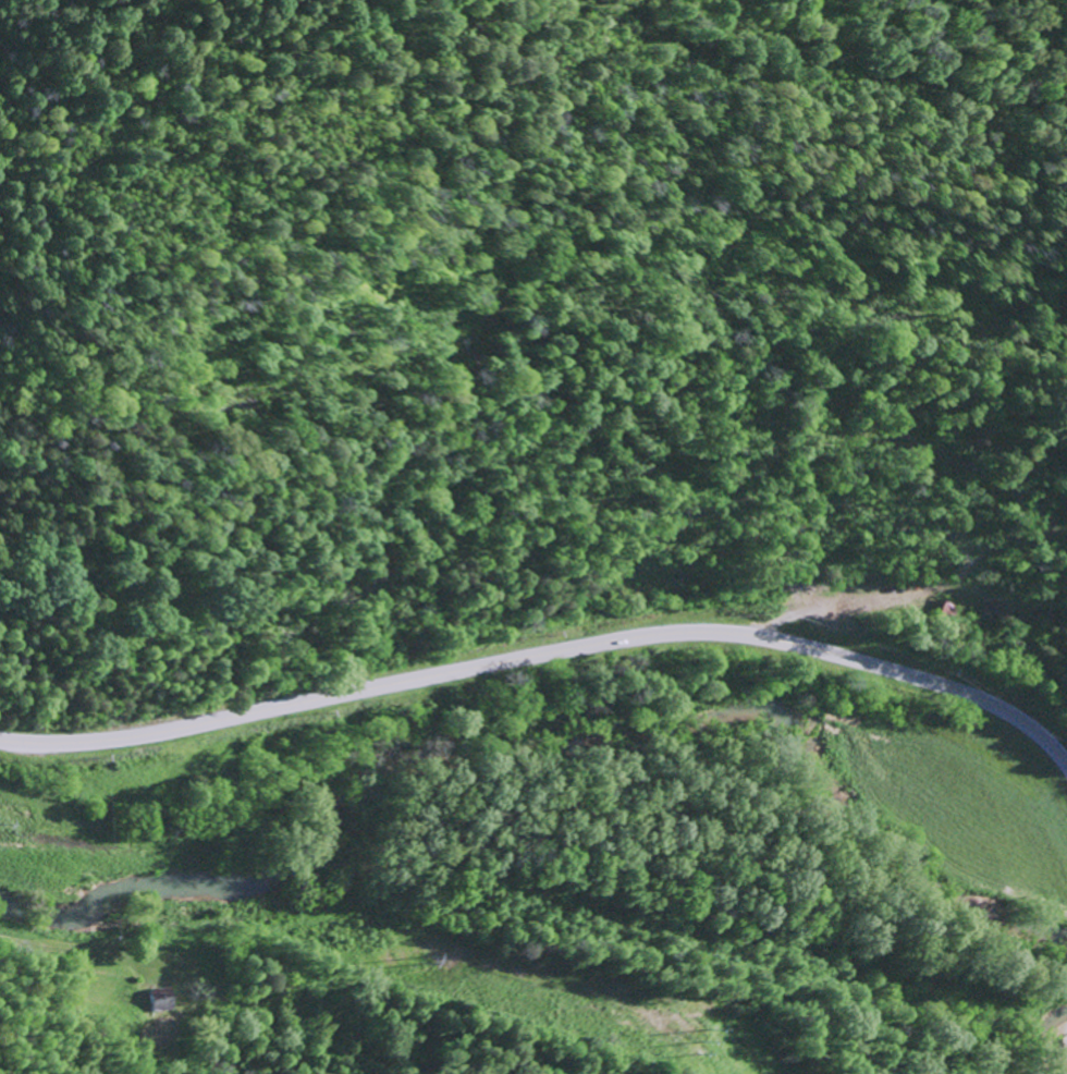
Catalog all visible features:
road: (545, 650)
road: (75, 948)
building: (161, 998)

